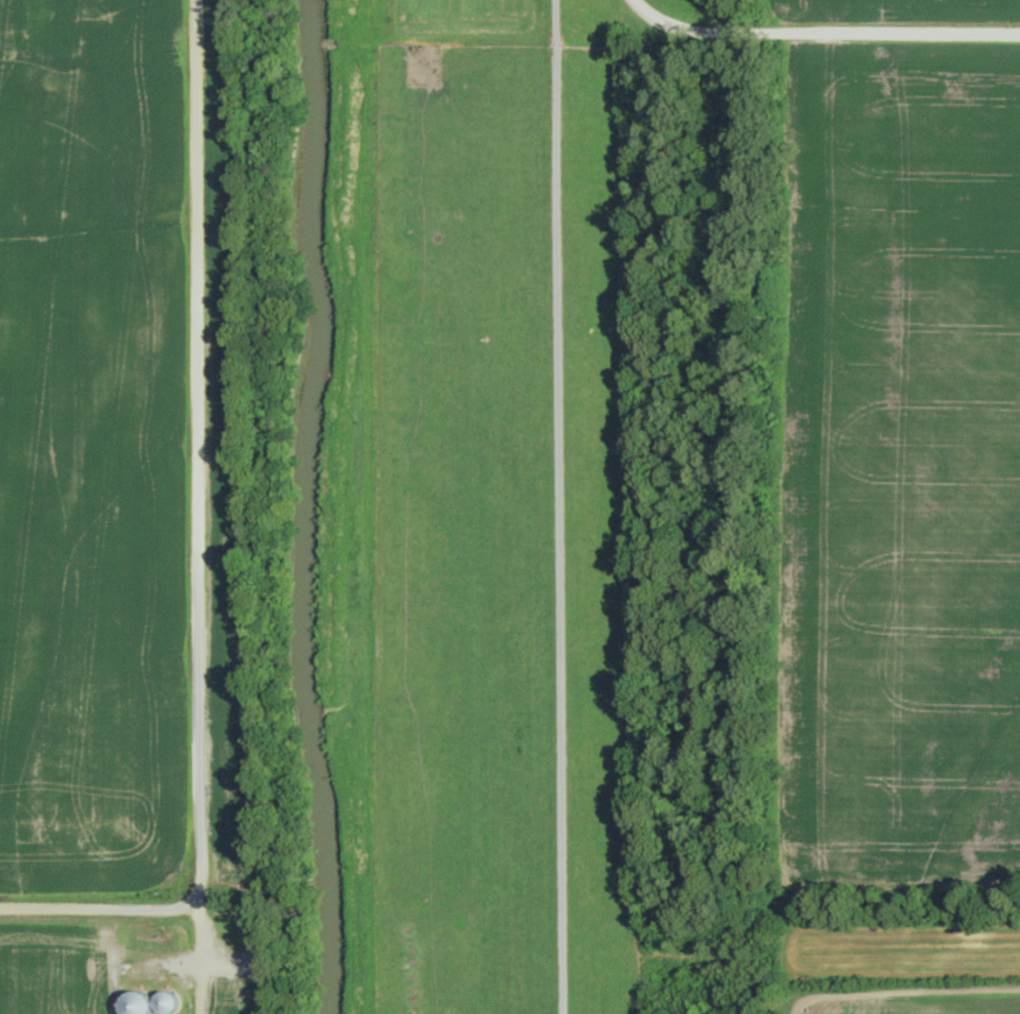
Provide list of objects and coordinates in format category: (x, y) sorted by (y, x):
road: (823, 32)
road: (99, 219)
road: (199, 455)
road: (561, 507)
road: (99, 911)
road: (198, 962)
road: (903, 994)

